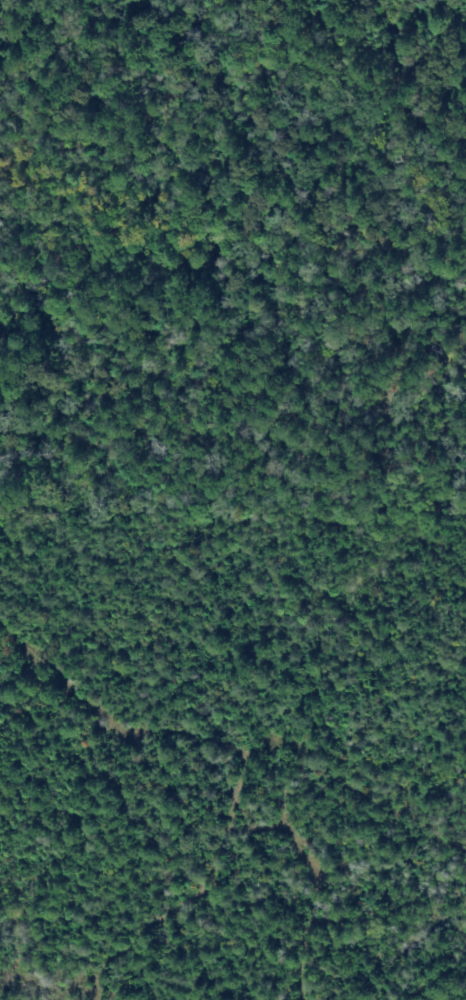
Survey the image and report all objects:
road: (295, 839)

